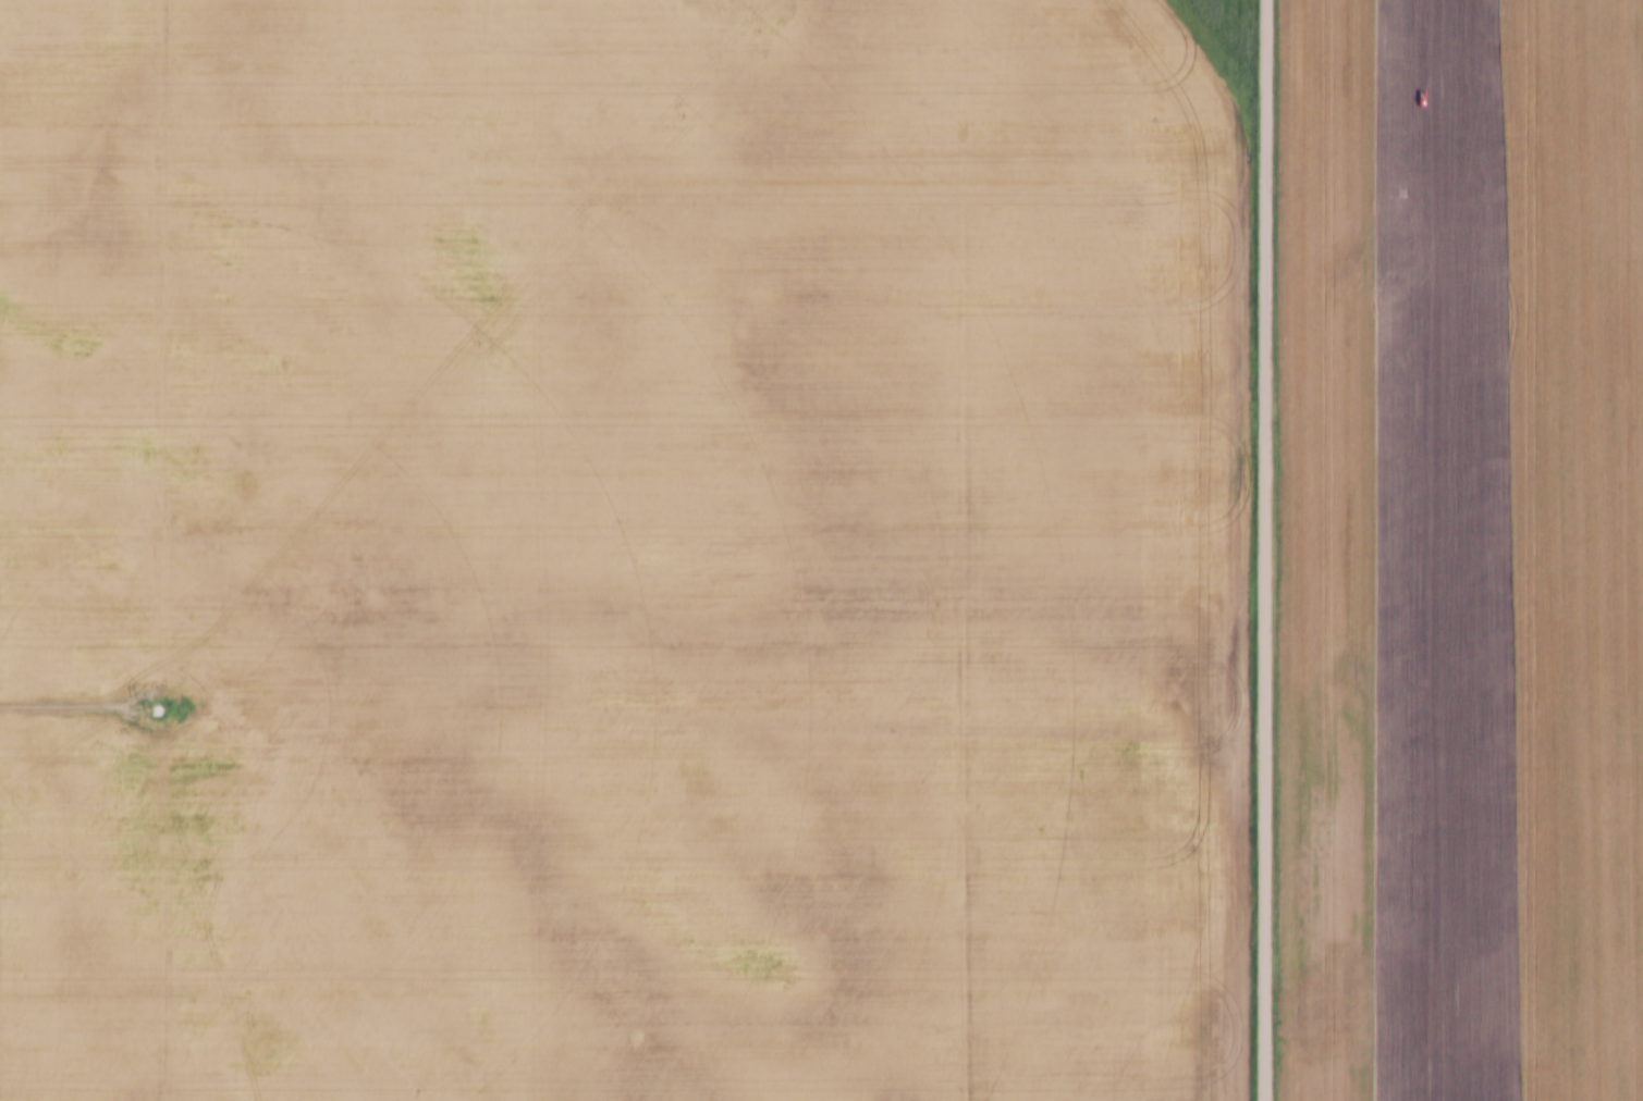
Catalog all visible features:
road: (1261, 549)

